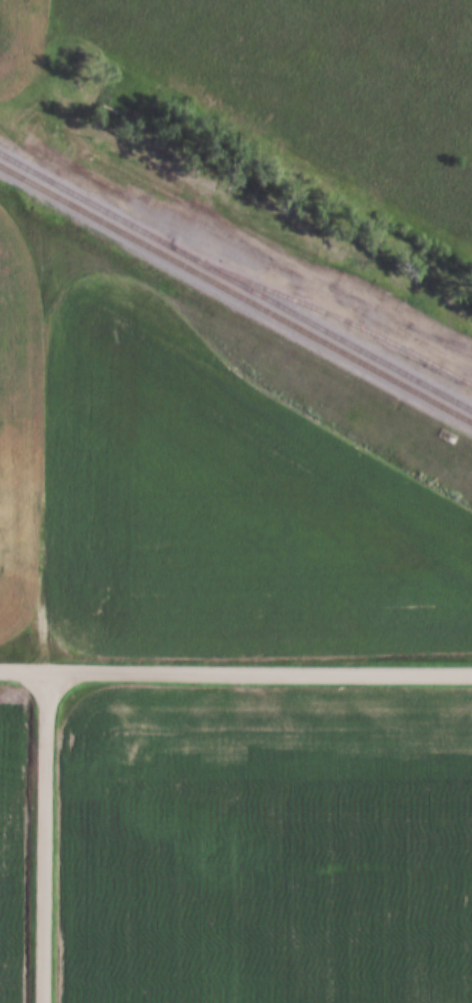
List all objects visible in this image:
railway: (20, 166)
road: (251, 231)
railway: (256, 294)
railway: (236, 297)
railway: (329, 316)
road: (38, 332)
road: (257, 671)
road: (21, 672)
road: (42, 837)

